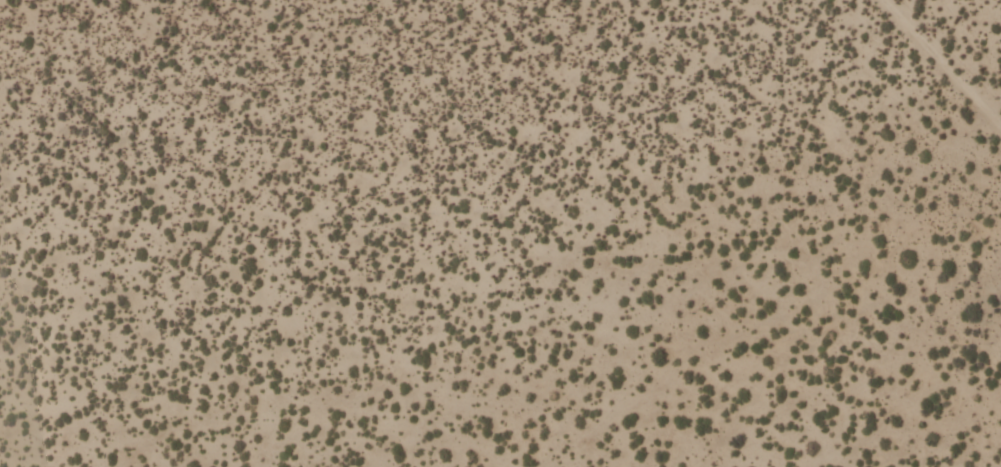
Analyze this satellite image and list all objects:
road: (935, 70)

